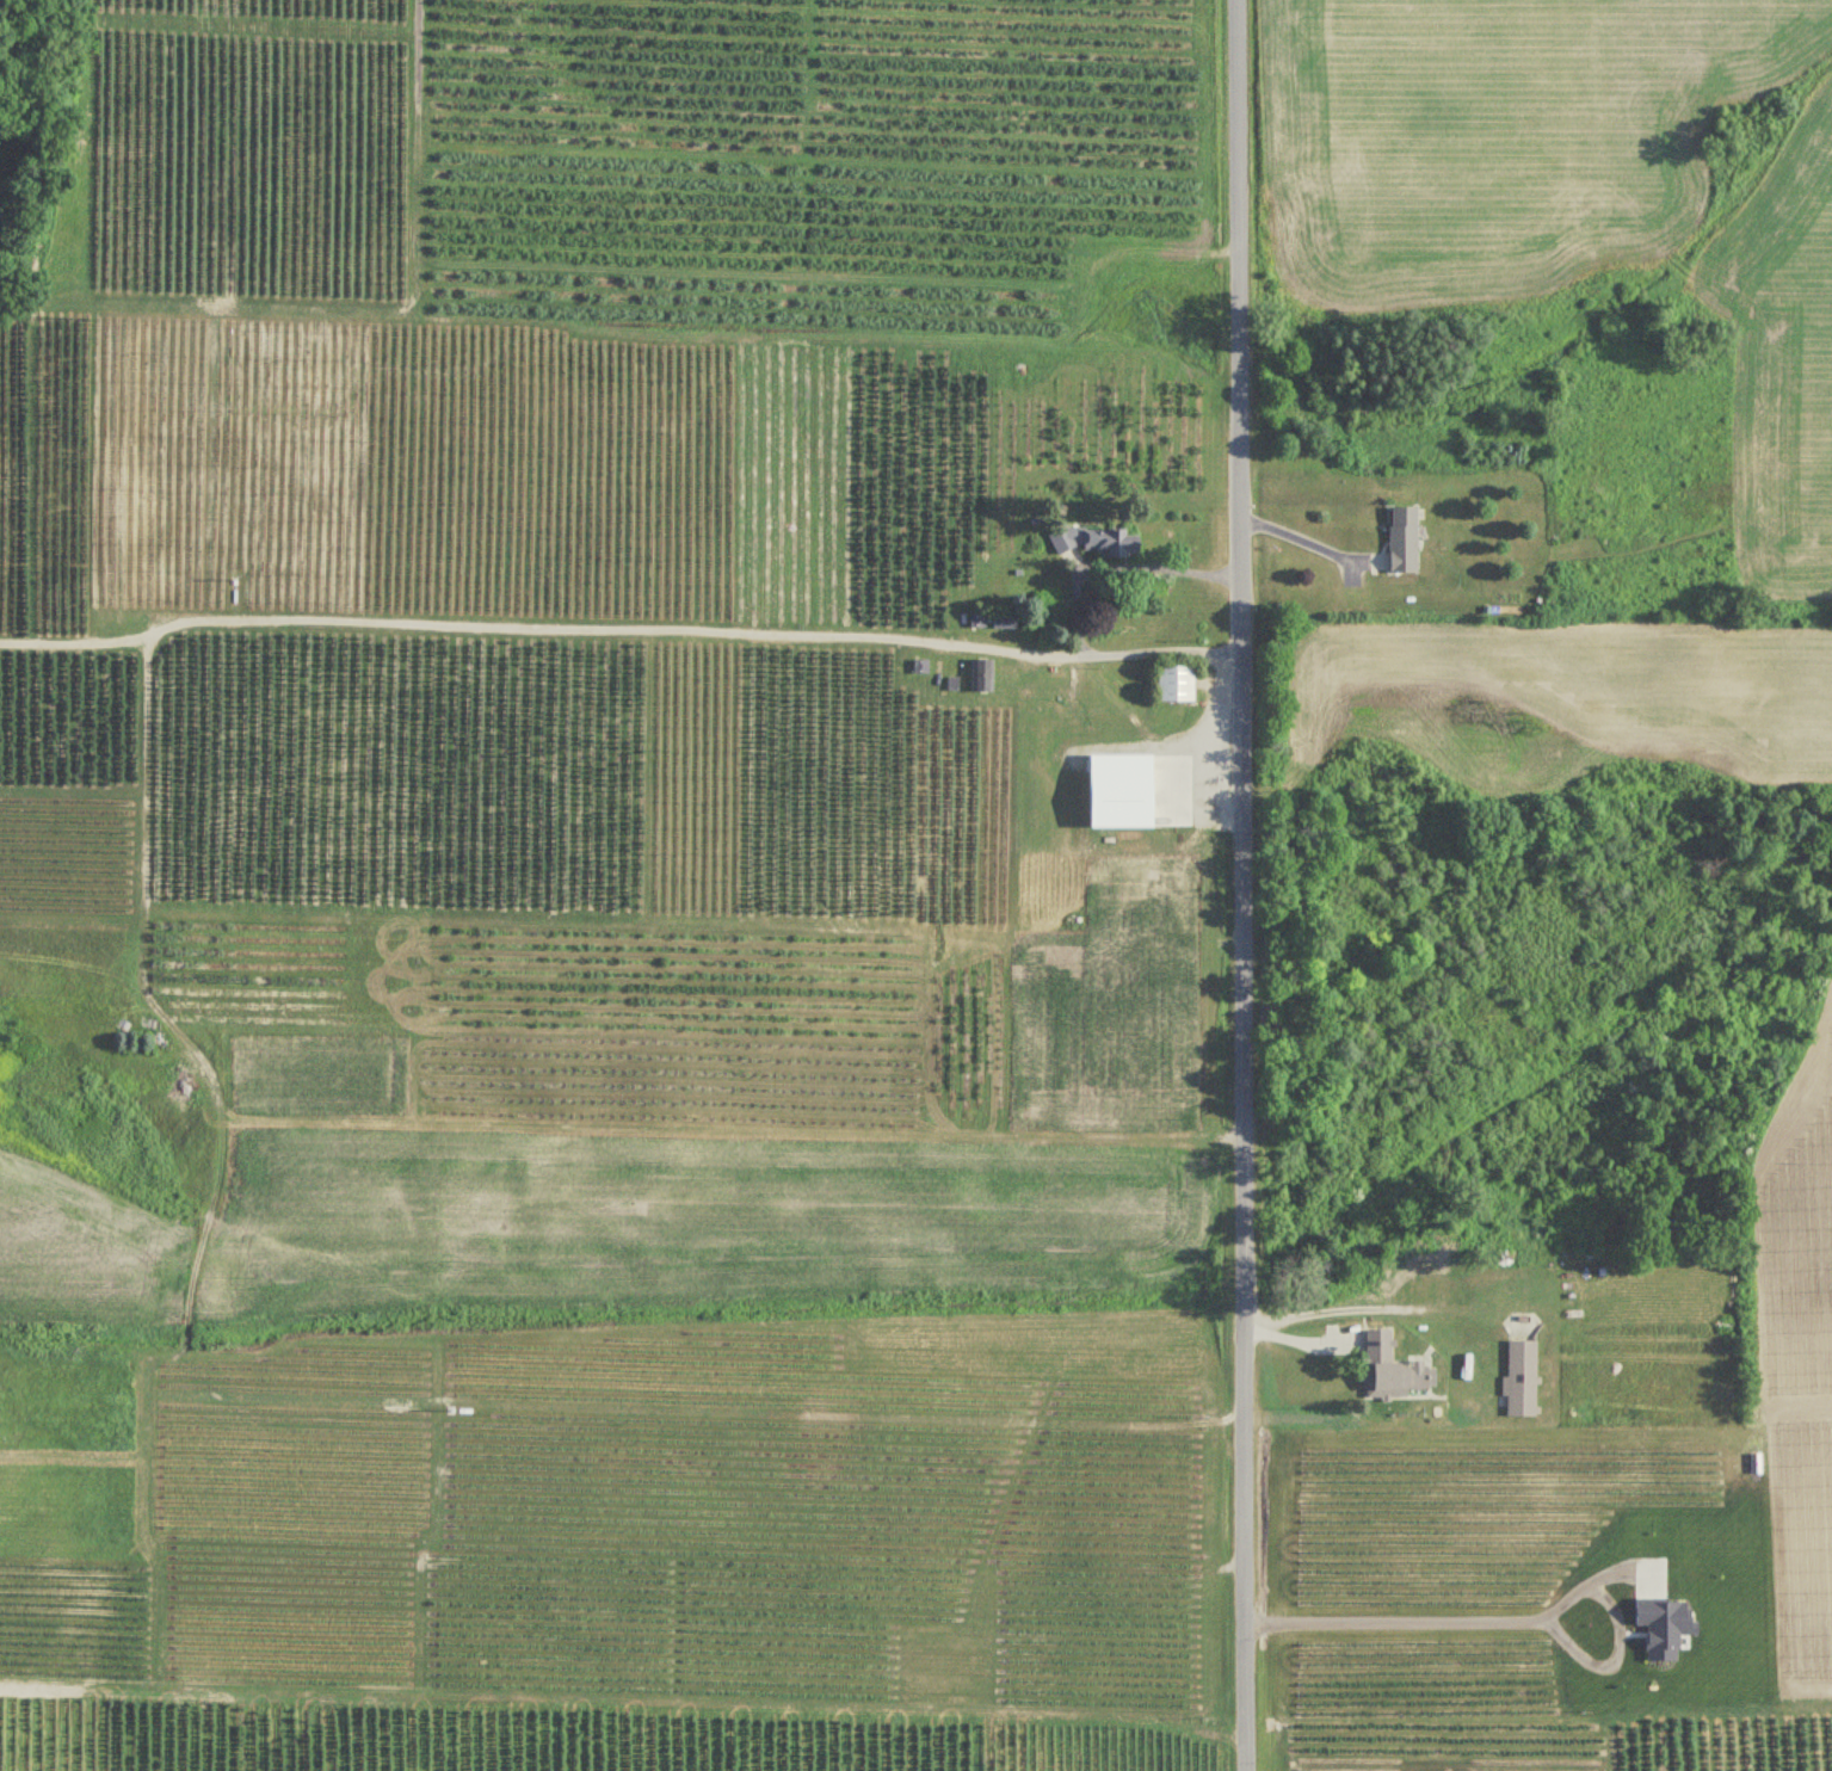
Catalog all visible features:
road: (1304, 539)
building: (1094, 542)
building: (1405, 542)
building: (1512, 598)
building: (980, 623)
building: (1006, 623)
road: (619, 628)
building: (983, 675)
building: (1178, 684)
road: (1242, 884)
building: (1390, 1370)
building: (1528, 1380)
road: (1513, 1621)

